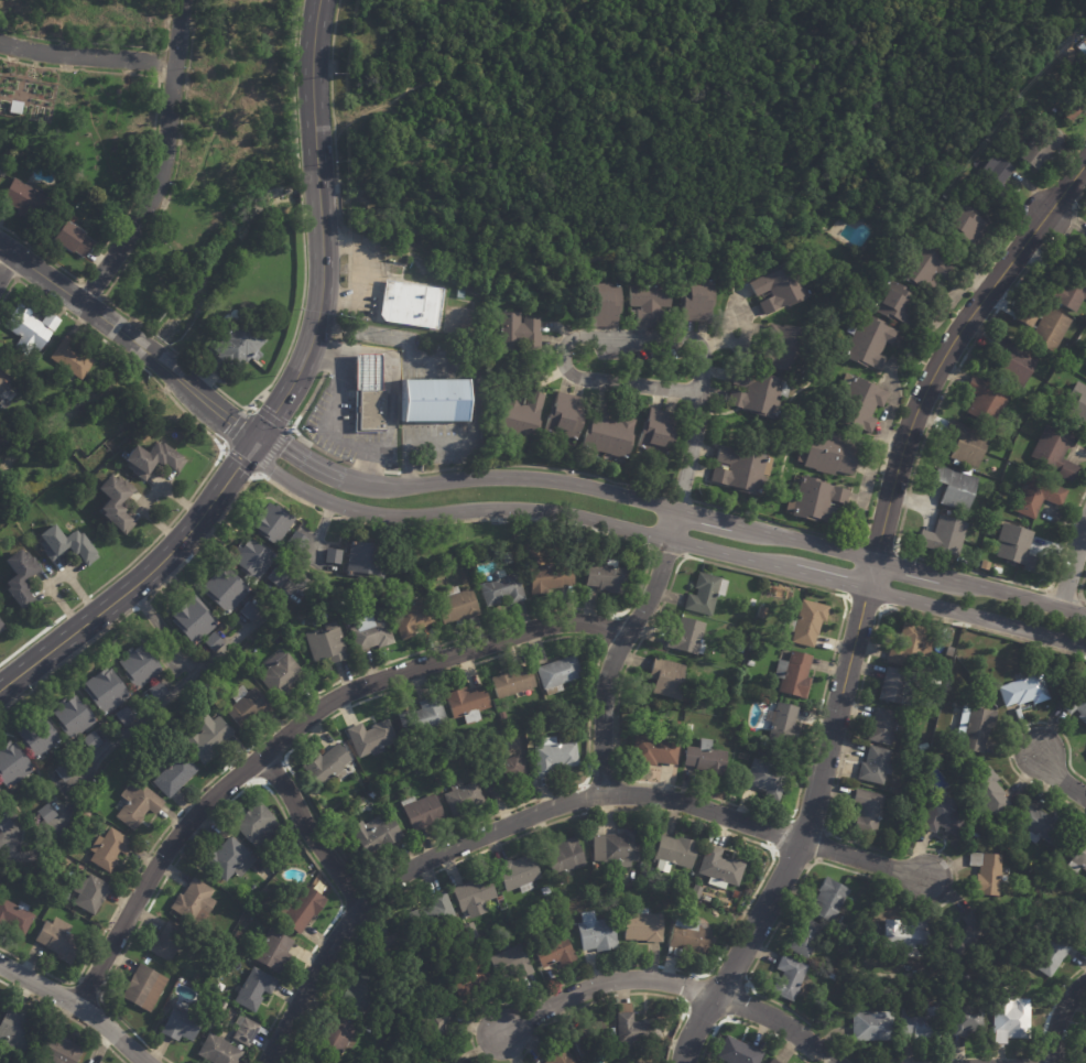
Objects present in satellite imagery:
road: (104, 43)
road: (86, 57)
road: (158, 76)
building: (1073, 105)
road: (169, 112)
road: (333, 117)
building: (1039, 147)
building: (19, 152)
road: (150, 156)
building: (2, 172)
building: (993, 173)
building: (29, 200)
building: (968, 224)
road: (322, 228)
building: (68, 237)
road: (348, 242)
building: (1083, 247)
building: (397, 256)
road: (109, 261)
road: (7, 267)
building: (925, 267)
road: (347, 271)
road: (8, 274)
road: (361, 274)
building: (436, 282)
building: (784, 290)
building: (1069, 291)
building: (461, 295)
road: (104, 299)
building: (704, 303)
building: (611, 304)
building: (655, 304)
building: (900, 304)
building: (413, 305)
building: (1024, 315)
building: (23, 327)
building: (1049, 328)
road: (338, 329)
building: (520, 330)
building: (1083, 333)
road: (130, 338)
building: (235, 344)
road: (698, 344)
building: (872, 344)
road: (949, 345)
building: (790, 352)
road: (324, 356)
building: (66, 357)
building: (31, 358)
building: (1013, 361)
road: (474, 368)
building: (1085, 368)
road: (892, 371)
road: (390, 375)
building: (2, 386)
road: (215, 387)
building: (759, 394)
building: (369, 395)
building: (1, 399)
building: (984, 401)
building: (435, 402)
building: (1076, 404)
building: (862, 405)
road: (251, 406)
building: (525, 417)
building: (568, 417)
road: (330, 421)
road: (234, 426)
road: (293, 429)
road: (291, 430)
building: (661, 434)
building: (612, 435)
road: (892, 438)
traffic signals: (256, 442)
building: (963, 443)
building: (0, 445)
road: (380, 448)
road: (691, 451)
building: (1052, 452)
road: (271, 453)
building: (832, 454)
road: (217, 456)
road: (304, 457)
building: (154, 458)
road: (367, 466)
road: (366, 467)
road: (544, 467)
road: (391, 471)
road: (409, 471)
building: (742, 473)
road: (912, 474)
road: (514, 477)
building: (954, 487)
building: (1035, 496)
road: (680, 497)
building: (819, 501)
building: (118, 502)
road: (227, 508)
road: (515, 509)
road: (326, 514)
road: (705, 516)
road: (777, 522)
building: (275, 523)
building: (943, 536)
building: (298, 540)
road: (804, 541)
building: (67, 544)
building: (1016, 546)
road: (664, 551)
building: (336, 556)
building: (256, 560)
building: (369, 560)
road: (1072, 565)
road: (916, 570)
building: (996, 570)
road: (870, 573)
building: (449, 574)
building: (553, 576)
building: (422, 577)
building: (610, 577)
building: (21, 578)
building: (280, 578)
road: (141, 579)
road: (832, 579)
road: (889, 583)
road: (1079, 586)
building: (219, 587)
building: (415, 587)
building: (504, 589)
building: (393, 590)
building: (708, 594)
road: (1023, 597)
building: (352, 599)
building: (753, 603)
road: (142, 604)
building: (458, 605)
building: (243, 609)
building: (763, 614)
road: (976, 617)
building: (188, 618)
building: (416, 618)
building: (810, 622)
building: (930, 625)
building: (1, 627)
road: (607, 627)
road: (163, 629)
building: (373, 633)
building: (689, 637)
building: (208, 640)
building: (322, 640)
building: (905, 646)
road: (431, 647)
road: (619, 647)
building: (741, 649)
building: (948, 651)
road: (67, 658)
building: (752, 663)
building: (134, 665)
building: (283, 673)
building: (561, 674)
building: (795, 674)
building: (671, 679)
building: (513, 682)
building: (934, 682)
building: (101, 686)
building: (897, 687)
building: (1022, 690)
building: (158, 691)
road: (172, 692)
building: (467, 701)
building: (1075, 703)
building: (249, 708)
building: (68, 714)
building: (503, 715)
building: (126, 717)
building: (425, 717)
building: (677, 724)
building: (785, 724)
building: (689, 726)
building: (880, 726)
road: (293, 727)
building: (496, 727)
building: (973, 727)
building: (40, 737)
building: (210, 738)
building: (374, 738)
road: (1010, 739)
building: (93, 741)
building: (515, 741)
road: (588, 744)
building: (454, 747)
building: (658, 751)
building: (557, 756)
building: (707, 759)
building: (14, 764)
building: (873, 764)
building: (330, 766)
road: (601, 768)
building: (65, 772)
road: (273, 773)
building: (175, 774)
road: (236, 775)
building: (507, 777)
road: (621, 778)
building: (769, 779)
road: (1060, 779)
building: (0, 789)
road: (241, 789)
building: (987, 791)
building: (466, 796)
road: (585, 799)
building: (140, 803)
building: (865, 811)
building: (423, 812)
building: (47, 814)
building: (86, 814)
building: (942, 816)
road: (695, 821)
building: (250, 822)
building: (6, 824)
road: (803, 825)
building: (1039, 825)
road: (309, 832)
road: (485, 834)
building: (378, 835)
road: (802, 836)
building: (970, 836)
road: (872, 848)
building: (111, 849)
building: (620, 849)
building: (677, 852)
building: (1075, 853)
building: (565, 856)
road: (789, 858)
building: (230, 859)
road: (864, 860)
building: (645, 865)
building: (723, 868)
building: (985, 872)
building: (520, 875)
building: (692, 875)
building: (546, 890)
building: (93, 893)
building: (63, 896)
building: (477, 896)
building: (192, 897)
building: (826, 900)
building: (295, 905)
building: (435, 914)
building: (17, 916)
road: (348, 922)
building: (844, 925)
building: (644, 928)
building: (1080, 928)
building: (229, 931)
building: (474, 932)
building: (800, 934)
building: (966, 934)
building: (239, 935)
building: (598, 935)
building: (689, 936)
building: (903, 936)
building: (59, 940)
building: (869, 940)
building: (171, 943)
building: (473, 946)
building: (269, 950)
building: (556, 951)
building: (395, 953)
building: (1050, 954)
building: (862, 957)
building: (514, 965)
road: (730, 970)
building: (830, 977)
building: (785, 978)
building: (473, 981)
road: (604, 983)
road: (89, 985)
building: (139, 986)
building: (249, 987)
road: (687, 987)
building: (363, 991)
road: (617, 995)
road: (737, 1000)
road: (1053, 1004)
road: (77, 1006)
building: (224, 1007)
road: (65, 1016)
building: (358, 1016)
road: (1058, 1017)
road: (699, 1019)
building: (1009, 1019)
building: (966, 1020)
road: (778, 1021)
building: (183, 1023)
road: (745, 1023)
building: (919, 1023)
building: (870, 1027)
building: (436, 1028)
building: (248, 1031)
building: (17, 1032)
building: (638, 1033)
building: (337, 1039)
building: (594, 1041)
building: (1085, 1042)
building: (59, 1051)
building: (221, 1051)
building: (736, 1051)
building: (554, 1056)
road: (1039, 1057)
building: (454, 1060)
building: (771, 1060)
building: (460, 1061)
building: (104, 1062)

